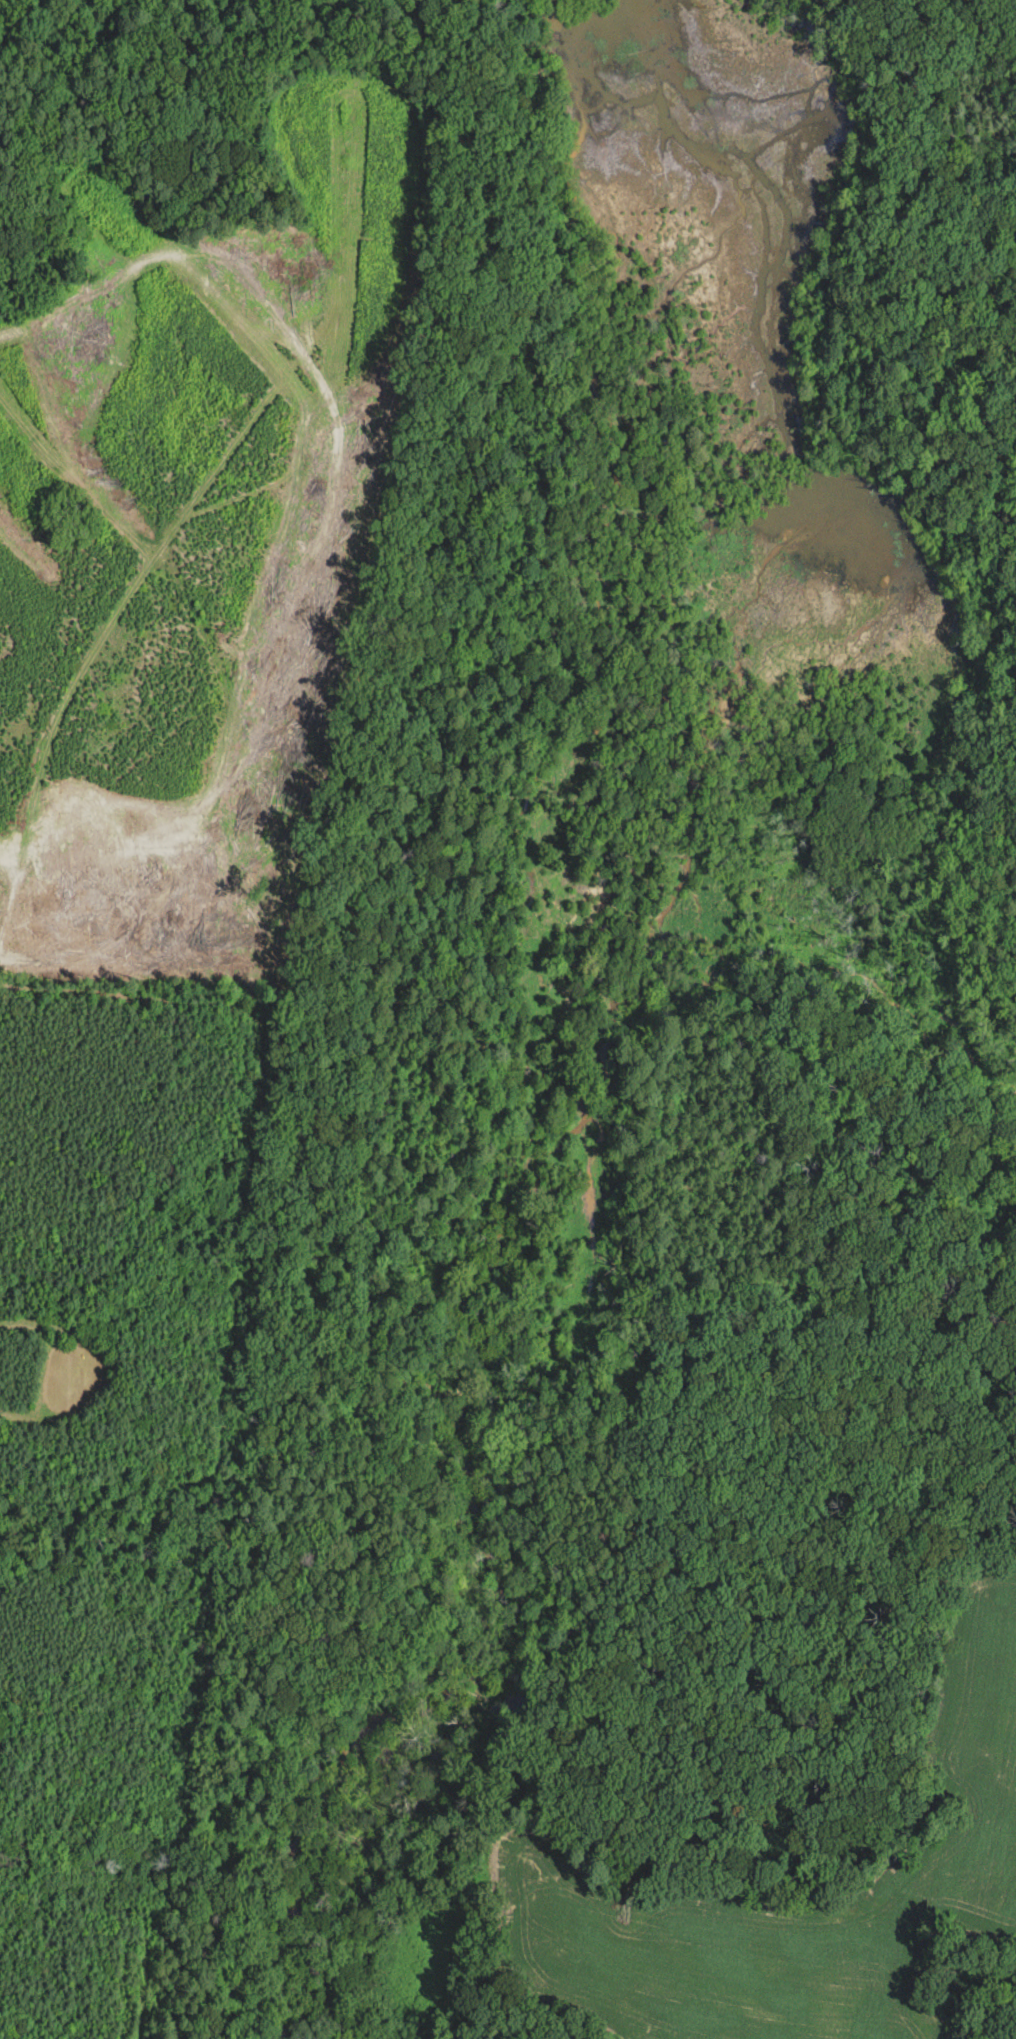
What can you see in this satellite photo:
road: (13, 907)

